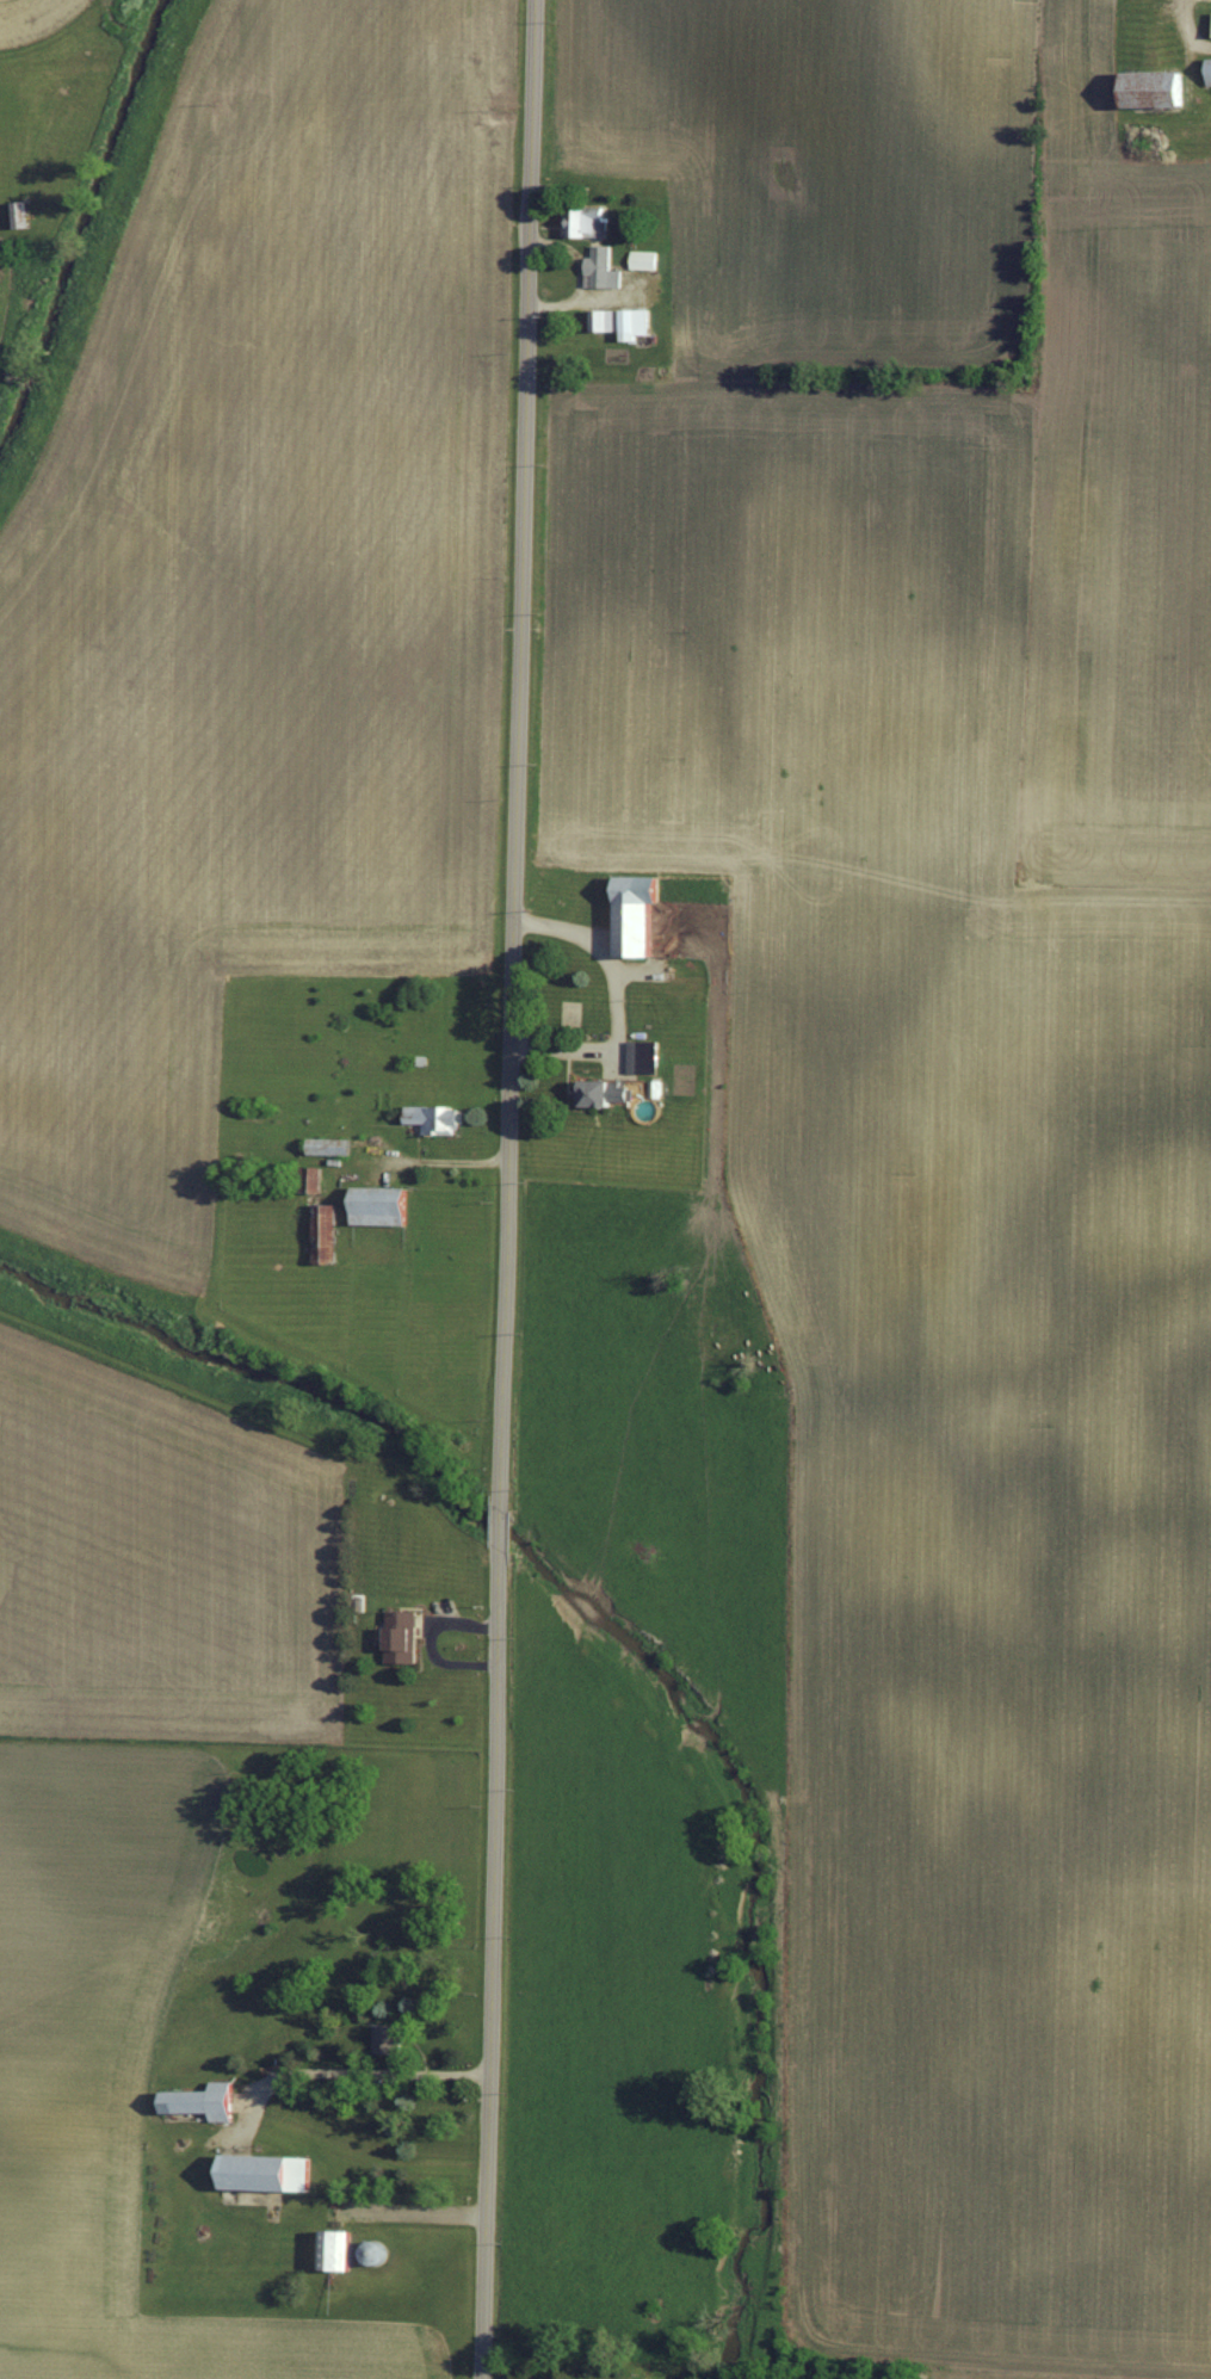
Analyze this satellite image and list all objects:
building: (1209, 69)
building: (1157, 88)
building: (586, 220)
building: (643, 257)
building: (600, 265)
building: (622, 319)
building: (642, 910)
road: (614, 990)
building: (642, 1053)
building: (656, 1086)
building: (608, 1090)
building: (439, 1117)
building: (332, 1144)
road: (437, 1155)
building: (313, 1176)
road: (506, 1188)
building: (384, 1204)
building: (328, 1230)
building: (404, 1635)
building: (390, 2038)
road: (344, 2064)
building: (205, 2100)
building: (273, 2171)
road: (413, 2206)
building: (340, 2249)

